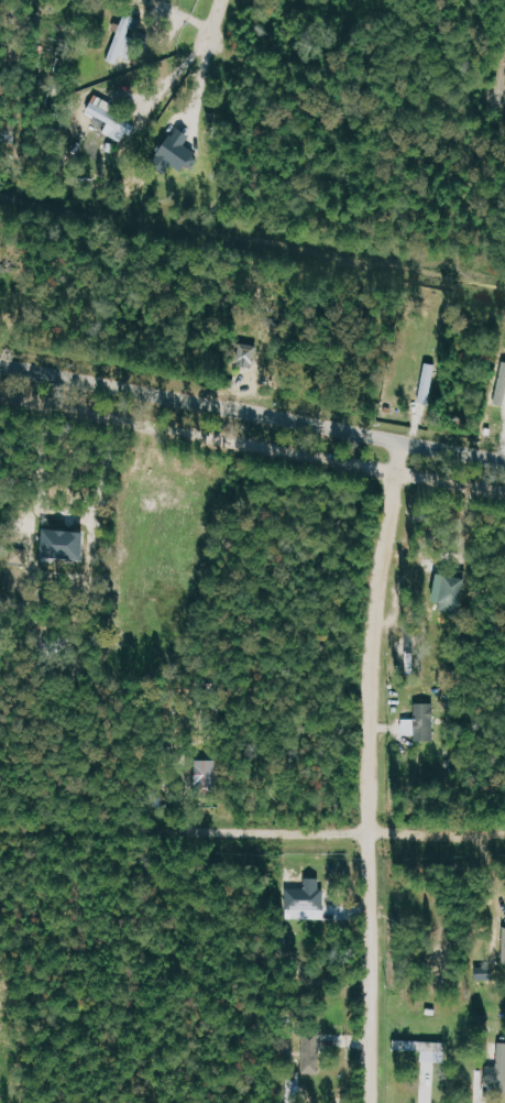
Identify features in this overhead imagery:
road: (213, 19)
building: (122, 37)
road: (172, 74)
road: (502, 84)
building: (111, 118)
building: (177, 150)
building: (248, 354)
building: (428, 383)
building: (502, 387)
road: (252, 409)
road: (252, 444)
building: (65, 545)
building: (451, 589)
building: (422, 723)
road: (366, 769)
building: (204, 774)
road: (252, 833)
building: (306, 899)
building: (503, 948)
building: (486, 973)
building: (316, 1048)
building: (425, 1048)
building: (497, 1070)

